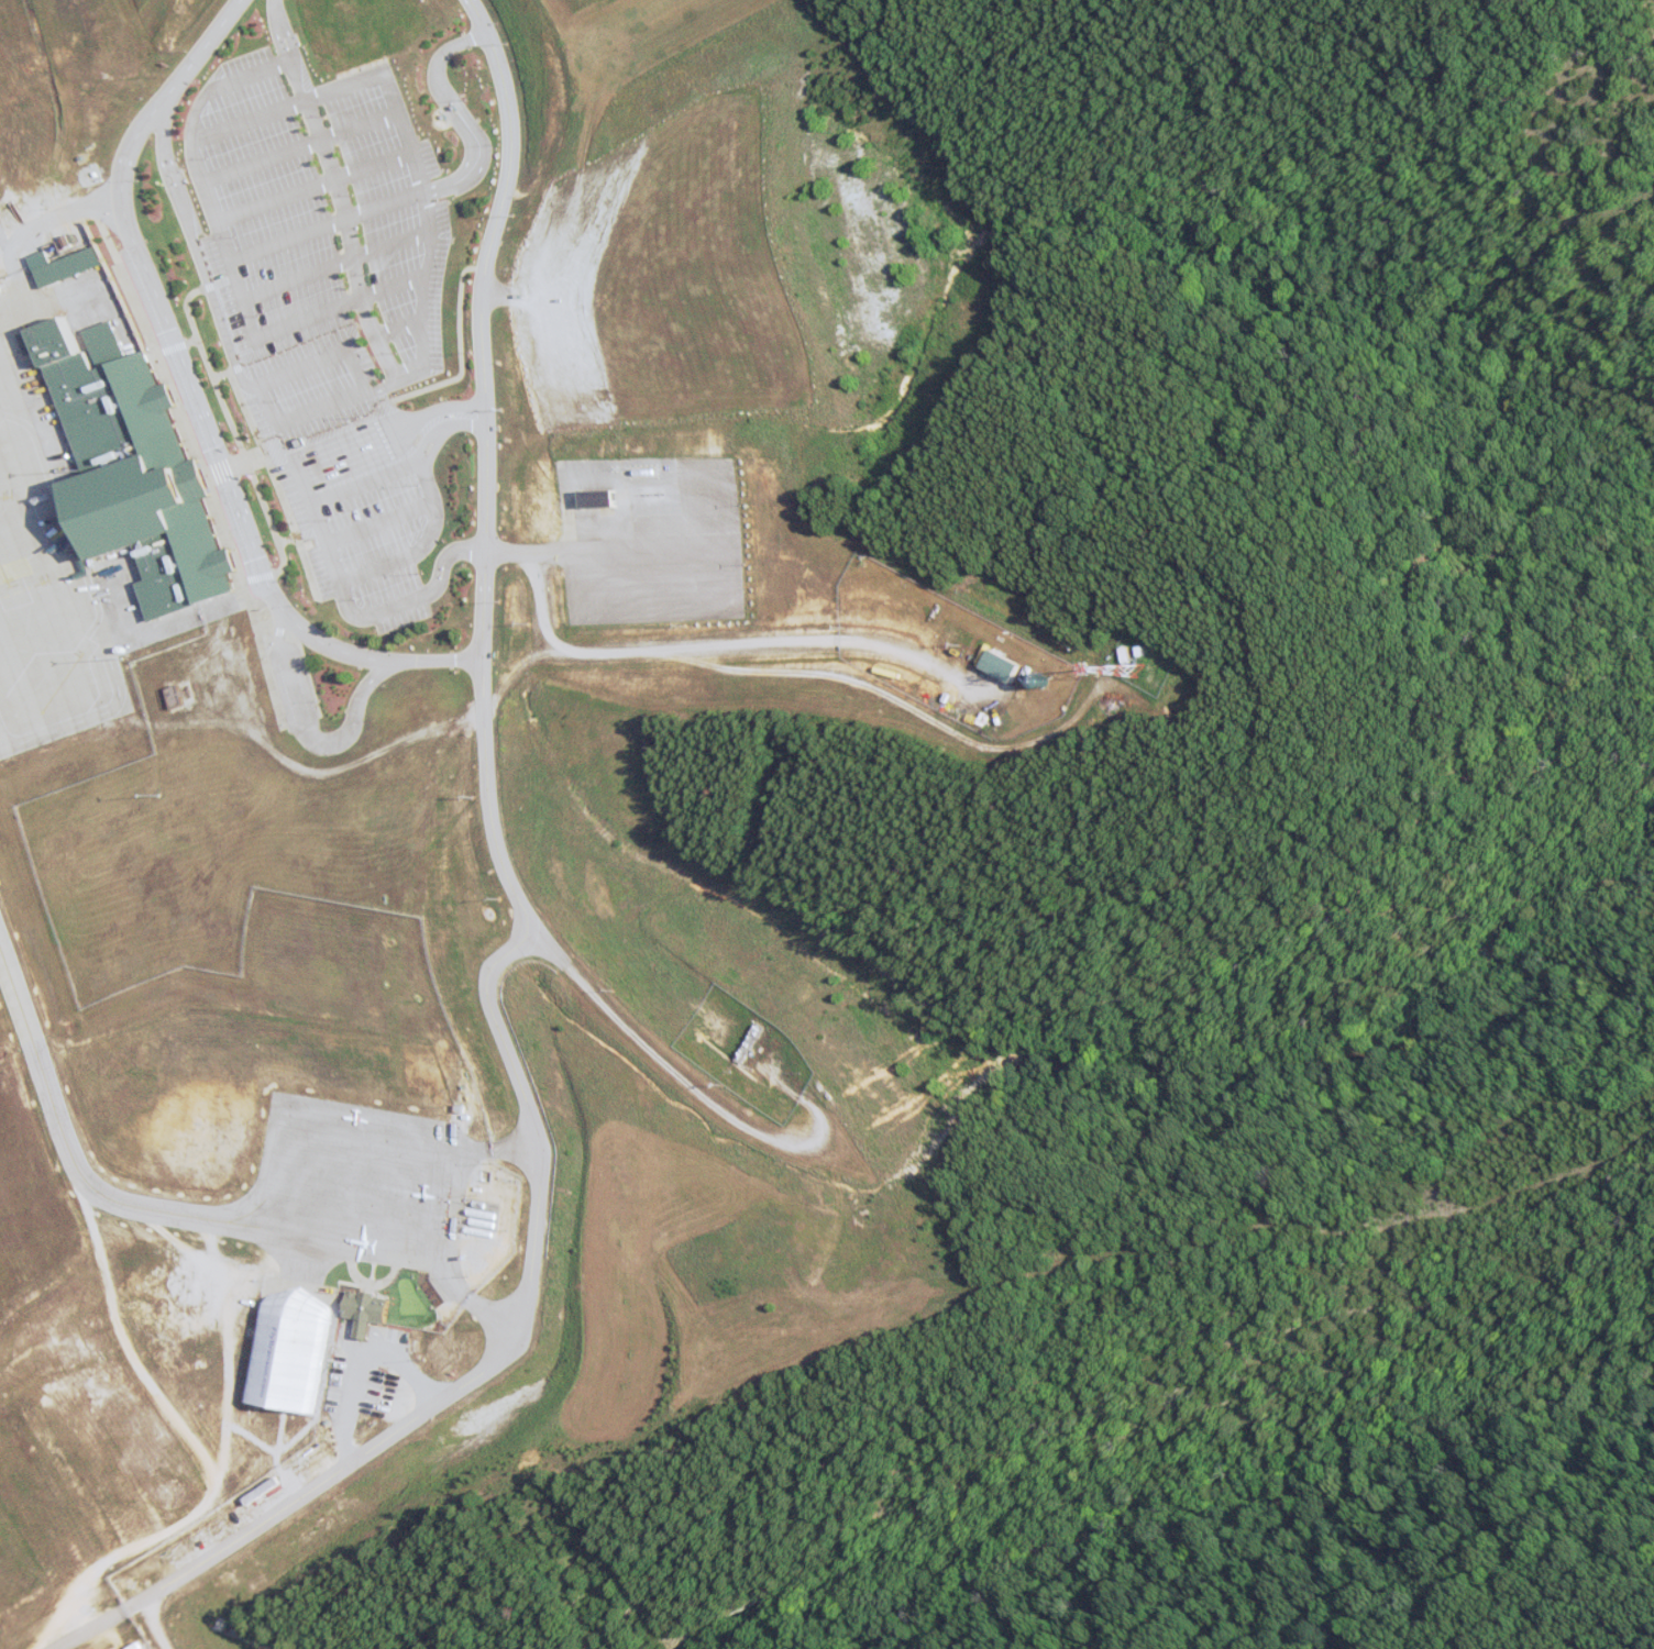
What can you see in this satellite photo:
road: (267, 30)
road: (372, 103)
road: (445, 119)
road: (210, 232)
road: (188, 254)
building: (60, 266)
road: (373, 307)
parking lot: (317, 310)
road: (338, 354)
road: (181, 407)
road: (295, 412)
road: (485, 465)
airport terminal: (119, 468)
building: (119, 468)
building: (602, 498)
road: (362, 521)
road: (302, 539)
road: (407, 545)
road: (600, 556)
airport apron: (41, 615)
building: (1004, 666)
road: (305, 730)
airport: (493, 738)
road: (707, 1093)
airport taxiway: (64, 1156)
airport apron: (334, 1182)
building: (344, 1312)
road: (340, 1353)
airport hangar: (265, 1358)
building: (265, 1358)
road: (473, 1369)

